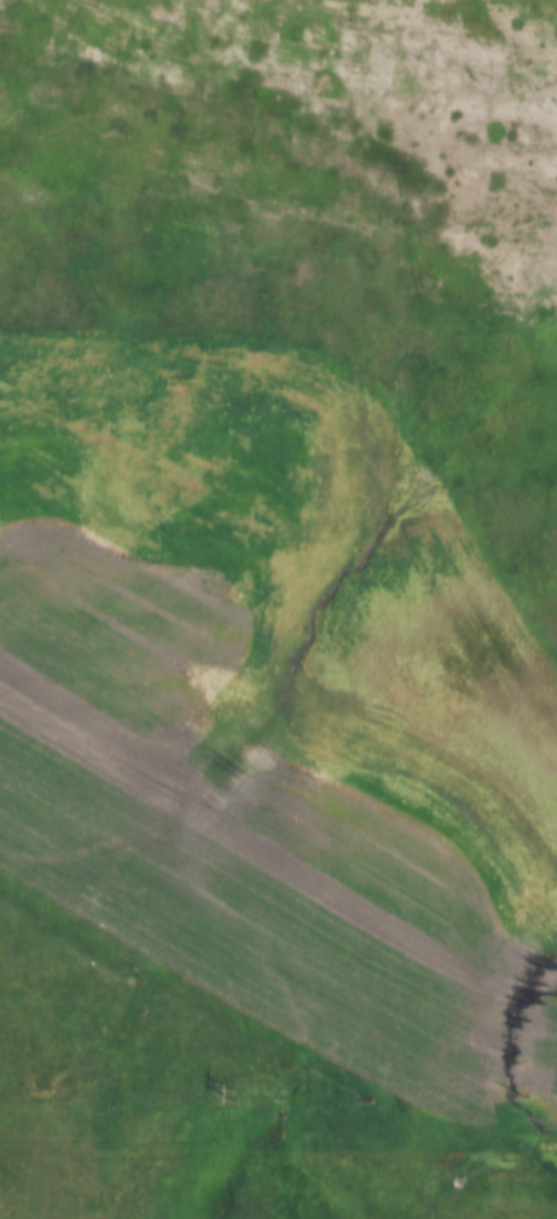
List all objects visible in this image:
road: (267, 1032)

